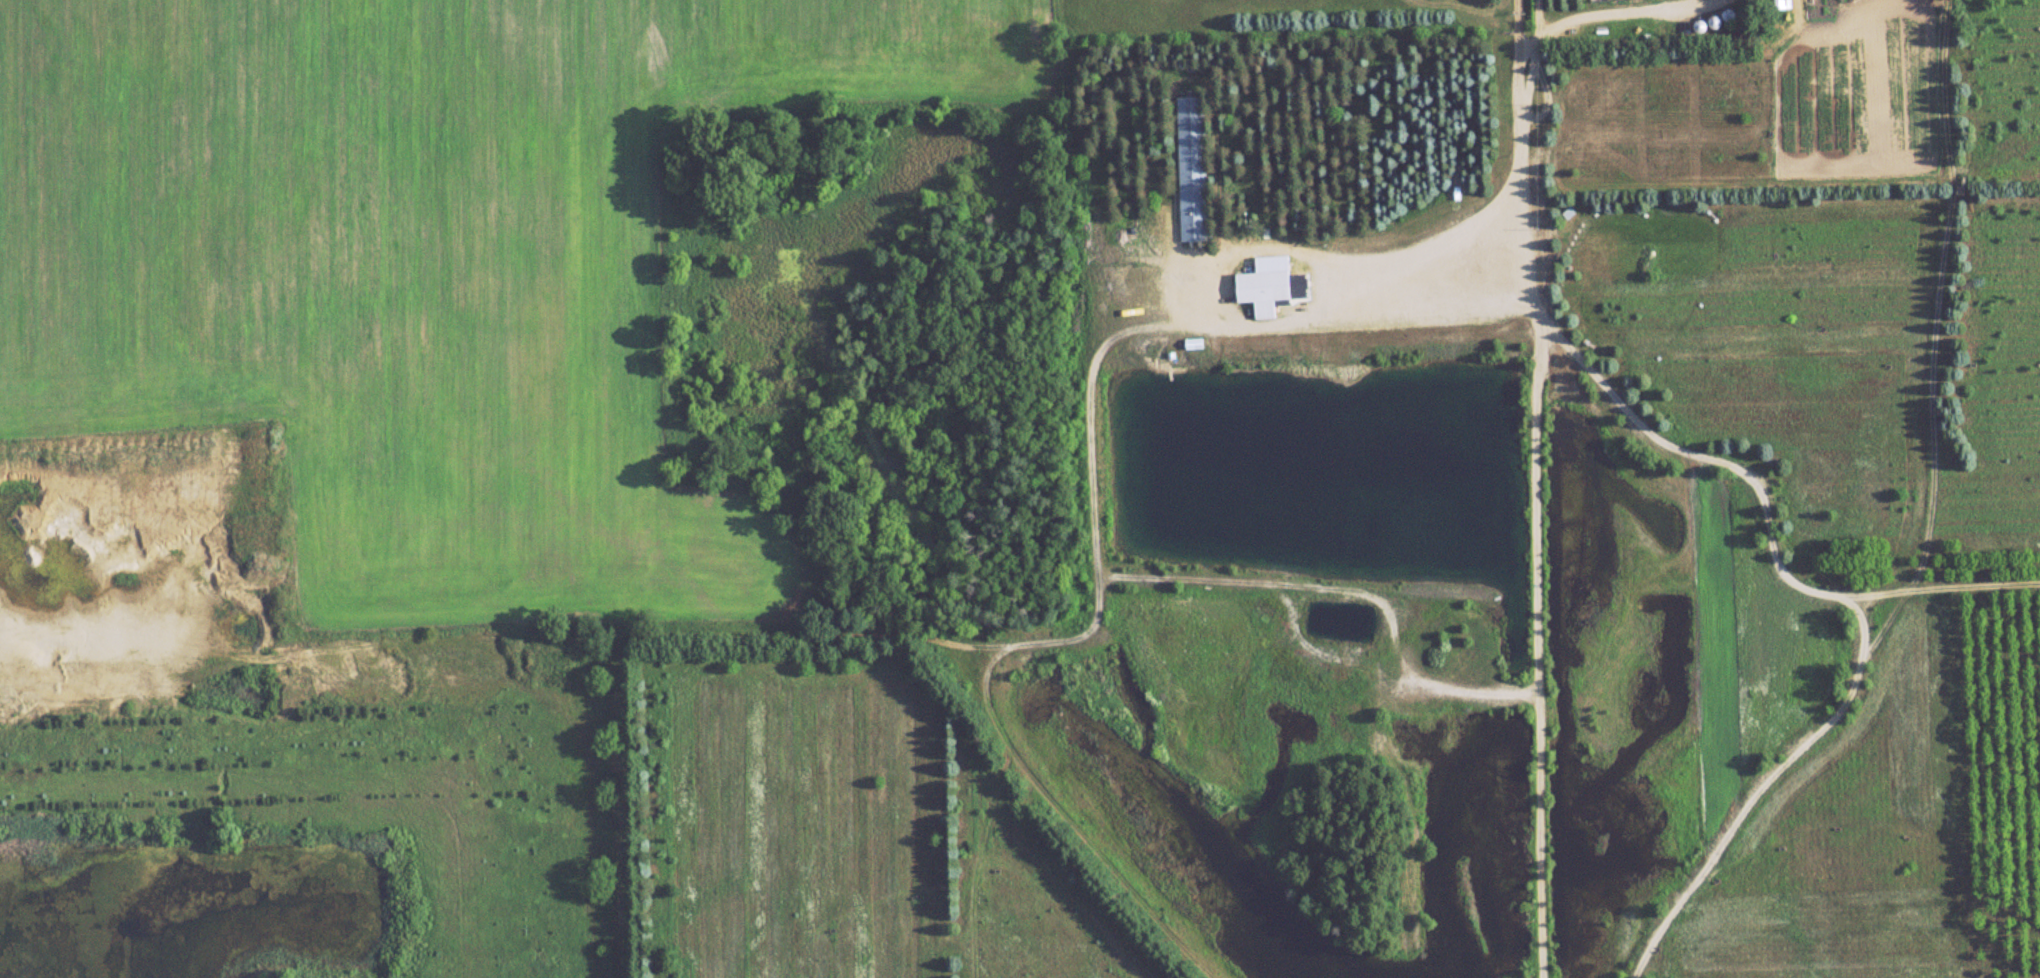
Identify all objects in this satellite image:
road: (1518, 90)
building: (1194, 167)
building: (1266, 289)

